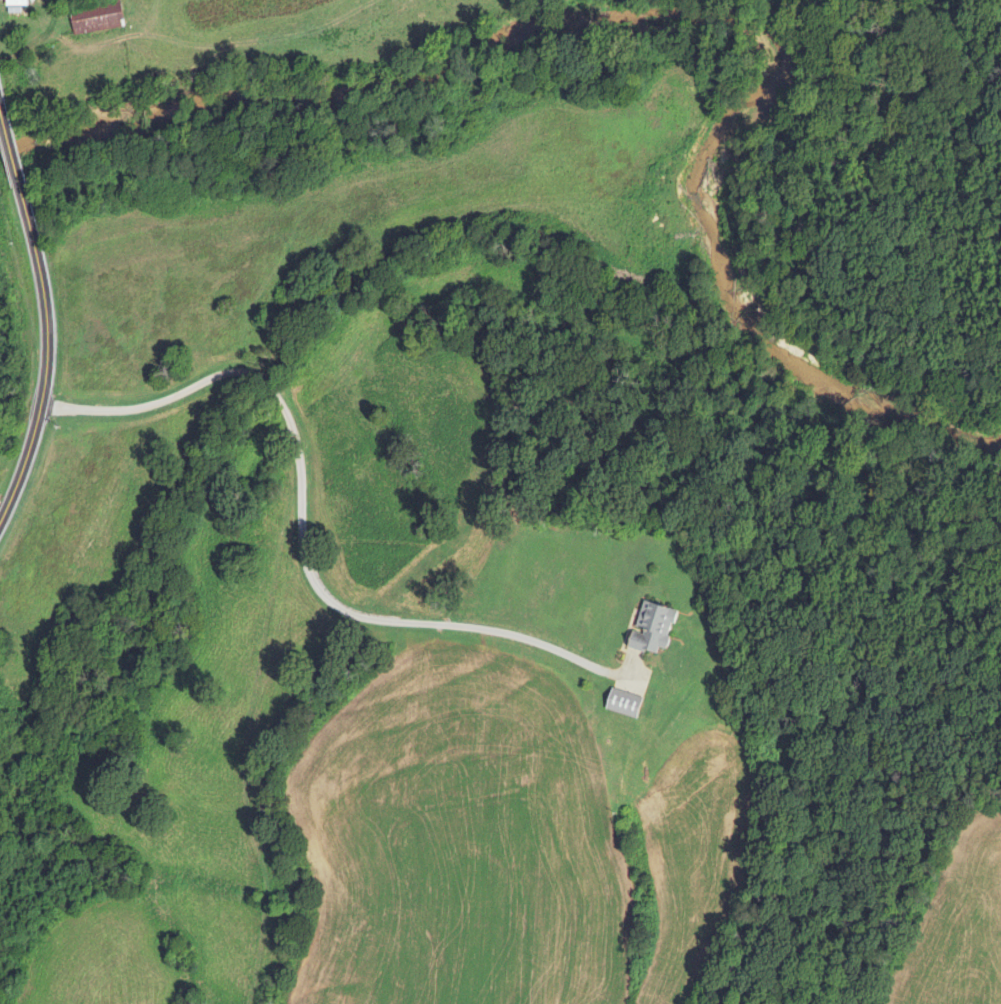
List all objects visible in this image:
building: (15, 3)
building: (92, 17)
road: (47, 311)
road: (309, 525)
building: (650, 628)

